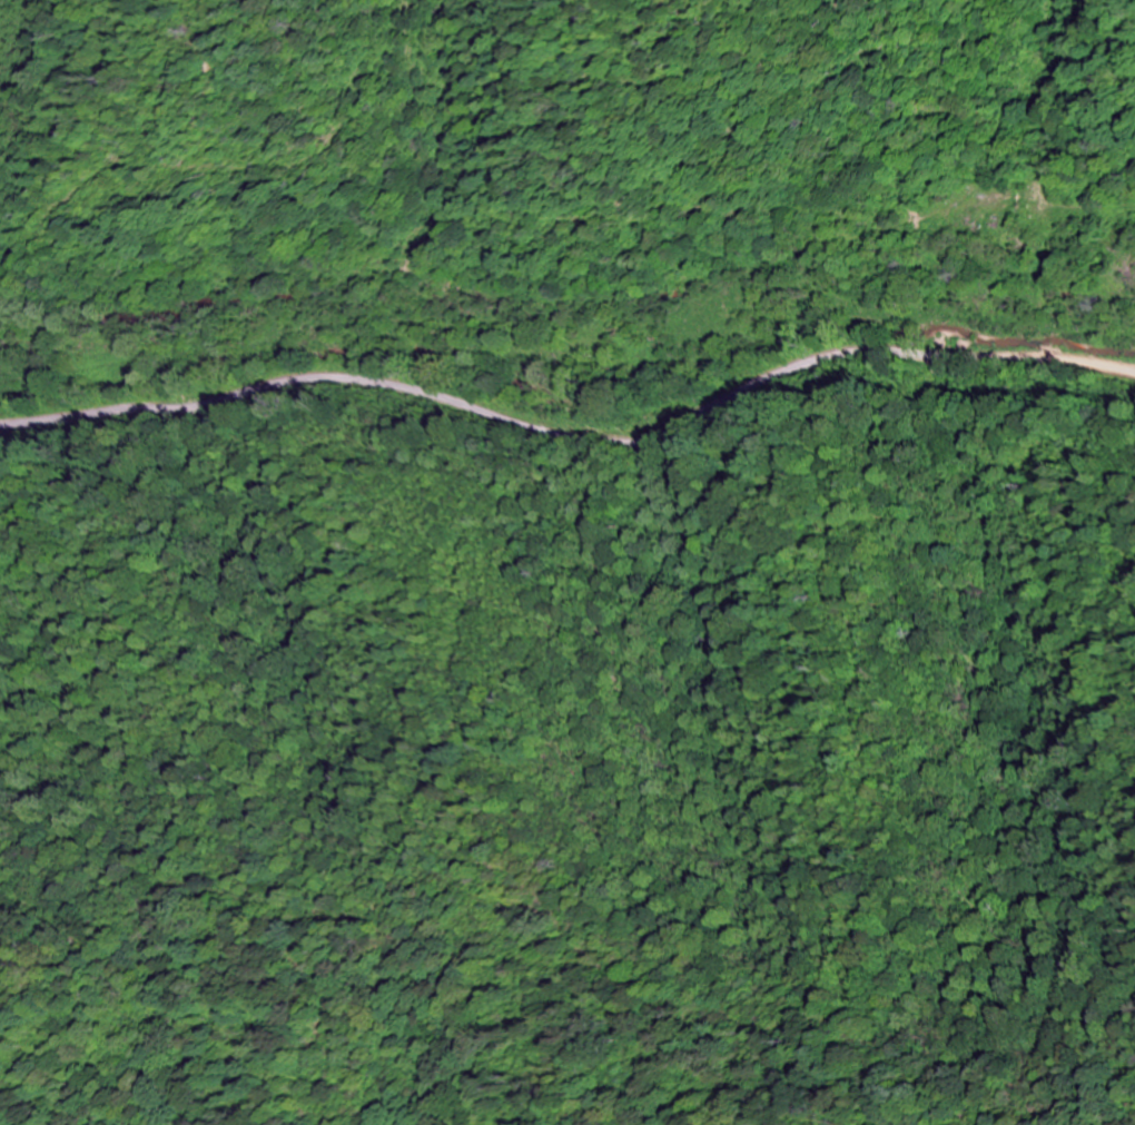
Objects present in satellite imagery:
road: (572, 441)

